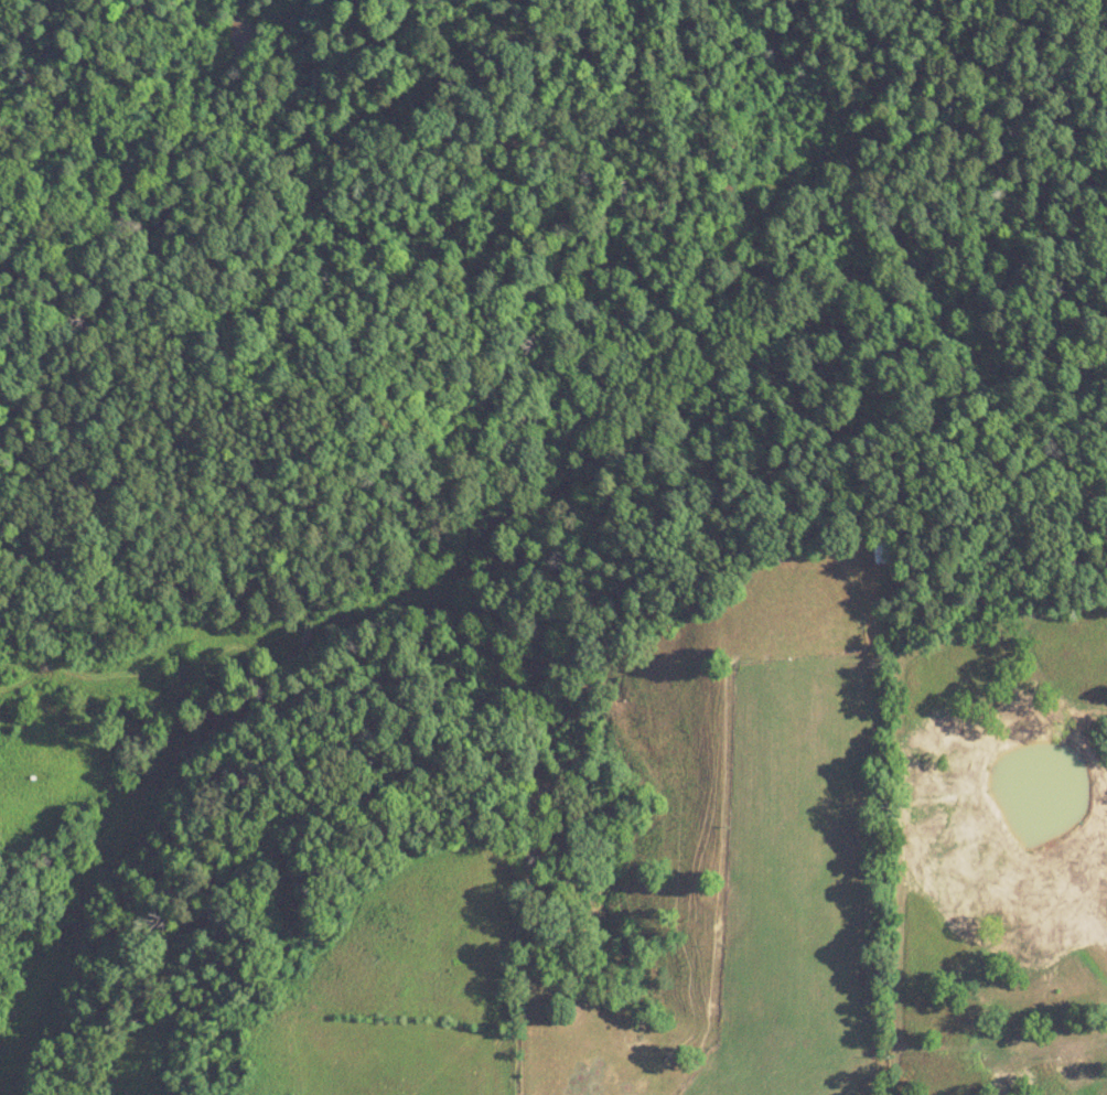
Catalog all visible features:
building: (881, 549)

